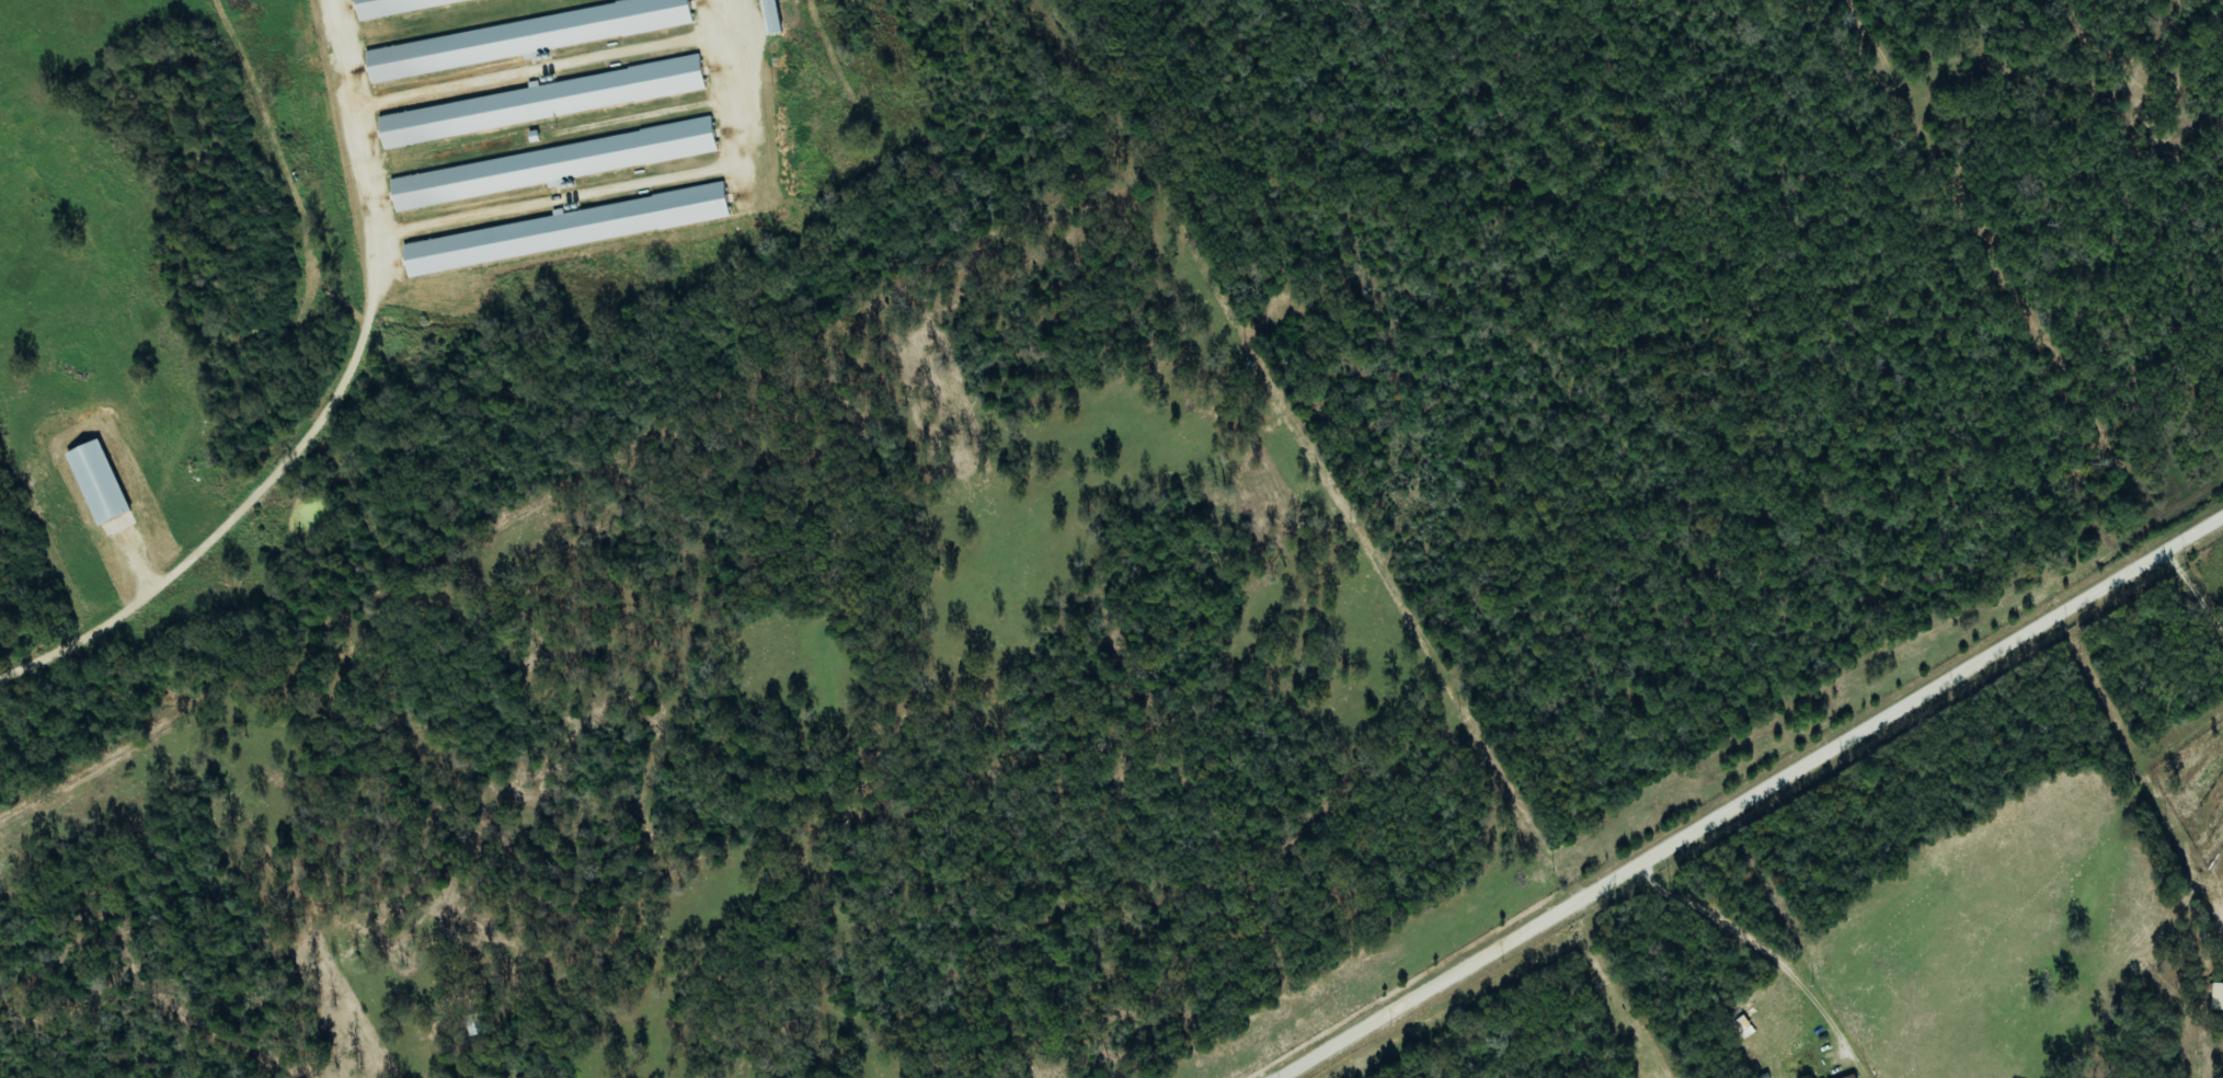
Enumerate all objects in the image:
building: (394, 4)
building: (774, 16)
building: (530, 36)
building: (550, 101)
building: (555, 164)
building: (576, 229)
building: (101, 482)
road: (1754, 799)
building: (2218, 996)
building: (1855, 1076)

